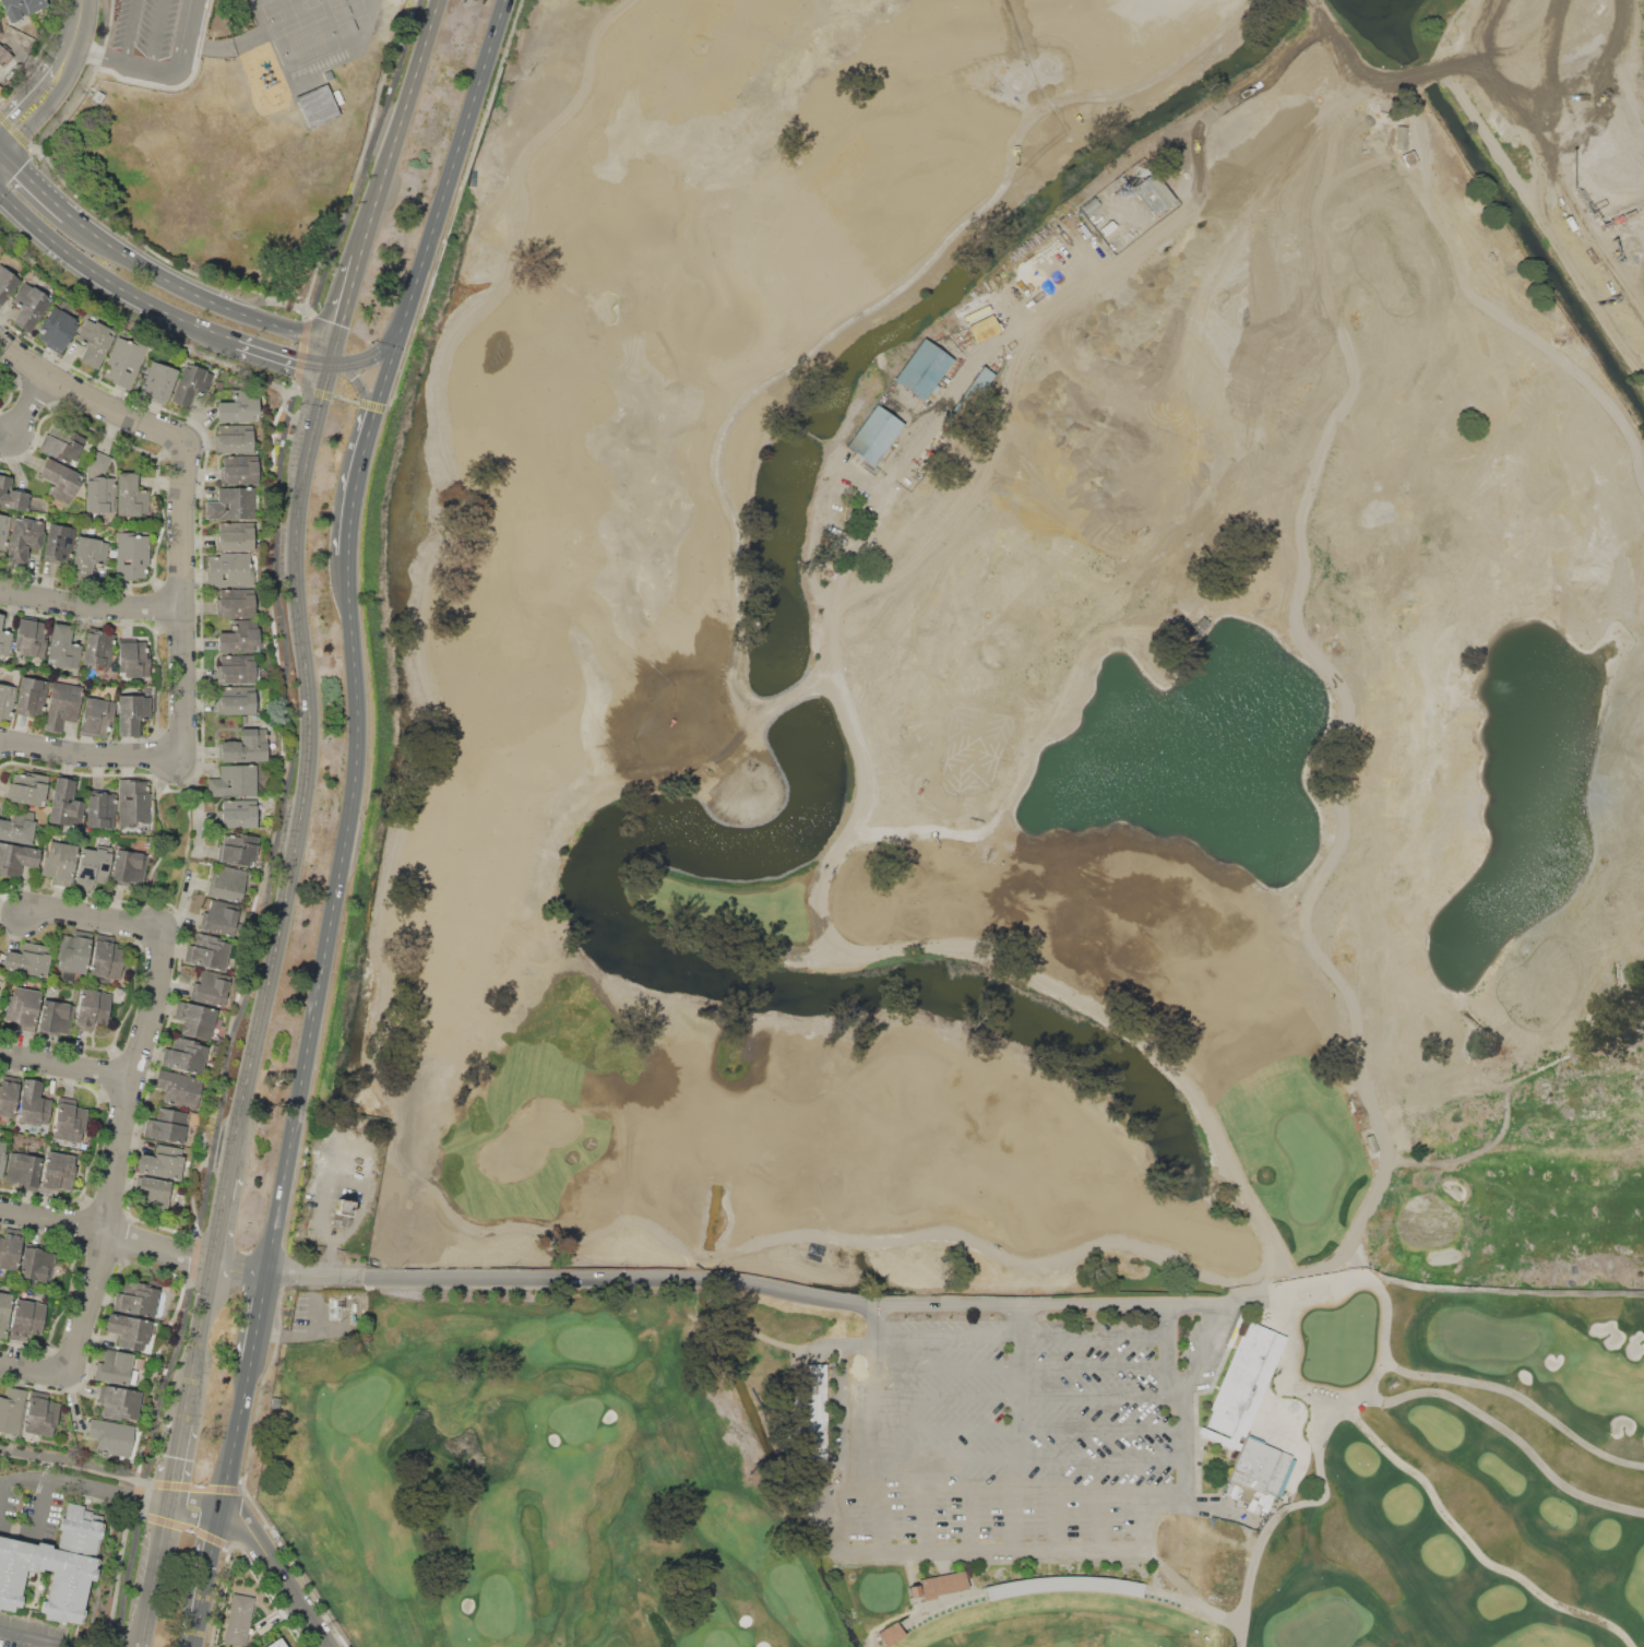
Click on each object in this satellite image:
building: (20, 8)
road: (1318, 8)
road: (74, 23)
road: (1446, 29)
road: (131, 31)
road: (157, 35)
road: (181, 38)
building: (4, 55)
road: (122, 61)
road: (1375, 70)
road: (1421, 75)
road: (35, 85)
building: (318, 106)
road: (45, 109)
road: (400, 128)
building: (1399, 137)
road: (462, 146)
road: (1429, 169)
road: (34, 179)
building: (1154, 192)
building: (1091, 205)
road: (1541, 218)
building: (1108, 227)
road: (156, 272)
road: (110, 280)
building: (7, 284)
building: (29, 305)
road: (343, 308)
building: (57, 328)
building: (982, 328)
road: (294, 332)
building: (94, 342)
road: (386, 348)
road: (283, 355)
building: (124, 360)
building: (921, 369)
building: (157, 382)
building: (190, 383)
building: (976, 383)
building: (0, 389)
road: (384, 395)
building: (238, 407)
road: (39, 408)
road: (367, 416)
building: (873, 435)
building: (234, 438)
building: (63, 446)
building: (99, 463)
building: (239, 470)
building: (59, 481)
road: (1246, 485)
building: (99, 494)
building: (12, 495)
building: (131, 495)
road: (177, 500)
building: (231, 503)
building: (153, 517)
building: (3, 530)
building: (233, 535)
building: (23, 540)
building: (59, 543)
building: (131, 555)
building: (88, 559)
building: (230, 569)
road: (92, 599)
building: (235, 602)
building: (1, 619)
building: (29, 637)
building: (240, 638)
road: (1288, 639)
building: (5, 642)
building: (62, 647)
building: (97, 649)
building: (132, 657)
building: (237, 670)
road: (1564, 678)
building: (31, 696)
road: (1334, 698)
building: (236, 700)
building: (5, 701)
building: (62, 706)
building: (132, 712)
building: (96, 716)
building: (245, 746)
road: (92, 751)
road: (311, 766)
road: (869, 778)
building: (233, 780)
building: (26, 786)
building: (64, 803)
building: (132, 803)
building: (99, 810)
building: (238, 814)
building: (16, 827)
road: (164, 844)
park: (1003, 848)
building: (238, 849)
building: (15, 858)
building: (58, 860)
building: (92, 866)
building: (126, 866)
building: (227, 882)
road: (339, 888)
building: (219, 916)
road: (94, 922)
building: (206, 952)
building: (72, 955)
building: (106, 957)
building: (28, 960)
building: (210, 988)
building: (22, 1006)
building: (92, 1009)
building: (56, 1017)
building: (195, 1020)
building: (186, 1054)
road: (1553, 1063)
road: (63, 1067)
building: (179, 1089)
road: (1433, 1092)
building: (8, 1094)
building: (33, 1104)
building: (69, 1121)
building: (168, 1125)
building: (2, 1159)
building: (162, 1162)
building: (23, 1170)
building: (57, 1172)
road: (108, 1185)
building: (153, 1192)
building: (341, 1212)
road: (225, 1217)
road: (109, 1231)
building: (9, 1248)
building: (36, 1264)
road: (718, 1280)
road: (1491, 1290)
building: (135, 1299)
building: (4, 1313)
building: (26, 1318)
road: (262, 1318)
road: (1020, 1319)
road: (873, 1322)
building: (128, 1330)
road: (1020, 1335)
road: (202, 1341)
road: (1168, 1350)
road: (1203, 1350)
road: (1021, 1366)
building: (116, 1367)
road: (1029, 1398)
building: (119, 1401)
building: (1247, 1409)
building: (12, 1410)
building: (801, 1410)
building: (40, 1412)
road: (1018, 1412)
road: (872, 1414)
building: (817, 1415)
road: (1029, 1430)
building: (111, 1436)
road: (238, 1436)
parking lot: (1013, 1436)
road: (180, 1459)
road: (1029, 1459)
road: (87, 1464)
road: (87, 1484)
road: (1, 1490)
road: (1006, 1490)
road: (43, 1505)
road: (198, 1507)
road: (1457, 1508)
road: (1097, 1519)
road: (1010, 1520)
road: (1053, 1520)
road: (924, 1521)
road: (970, 1521)
road: (881, 1522)
road: (1037, 1551)
building: (55, 1566)
road: (212, 1571)
road: (281, 1574)
road: (159, 1575)
building: (941, 1585)
building: (239, 1620)
park: (1068, 1625)
building: (885, 1628)
road: (199, 1638)
road: (26, 1640)
building: (276, 1644)

